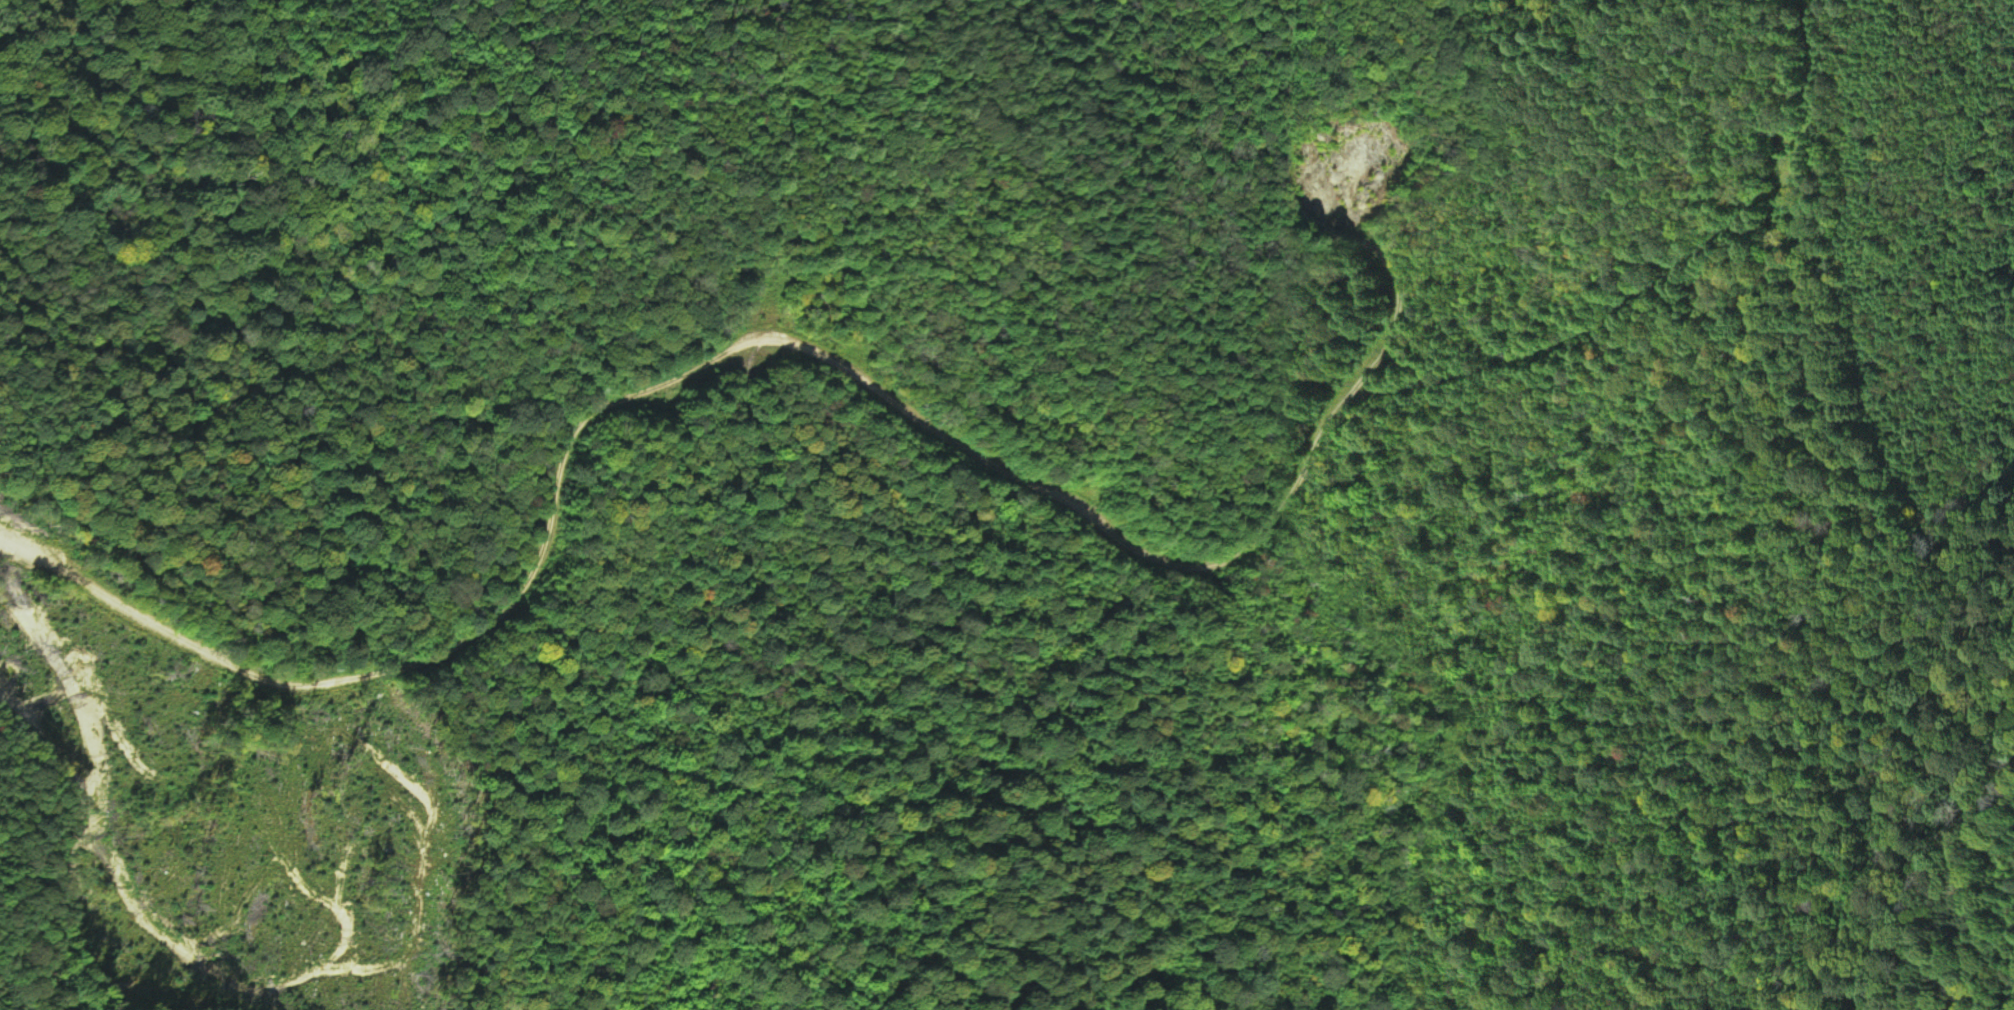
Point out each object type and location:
road: (1213, 267)
road: (879, 305)

